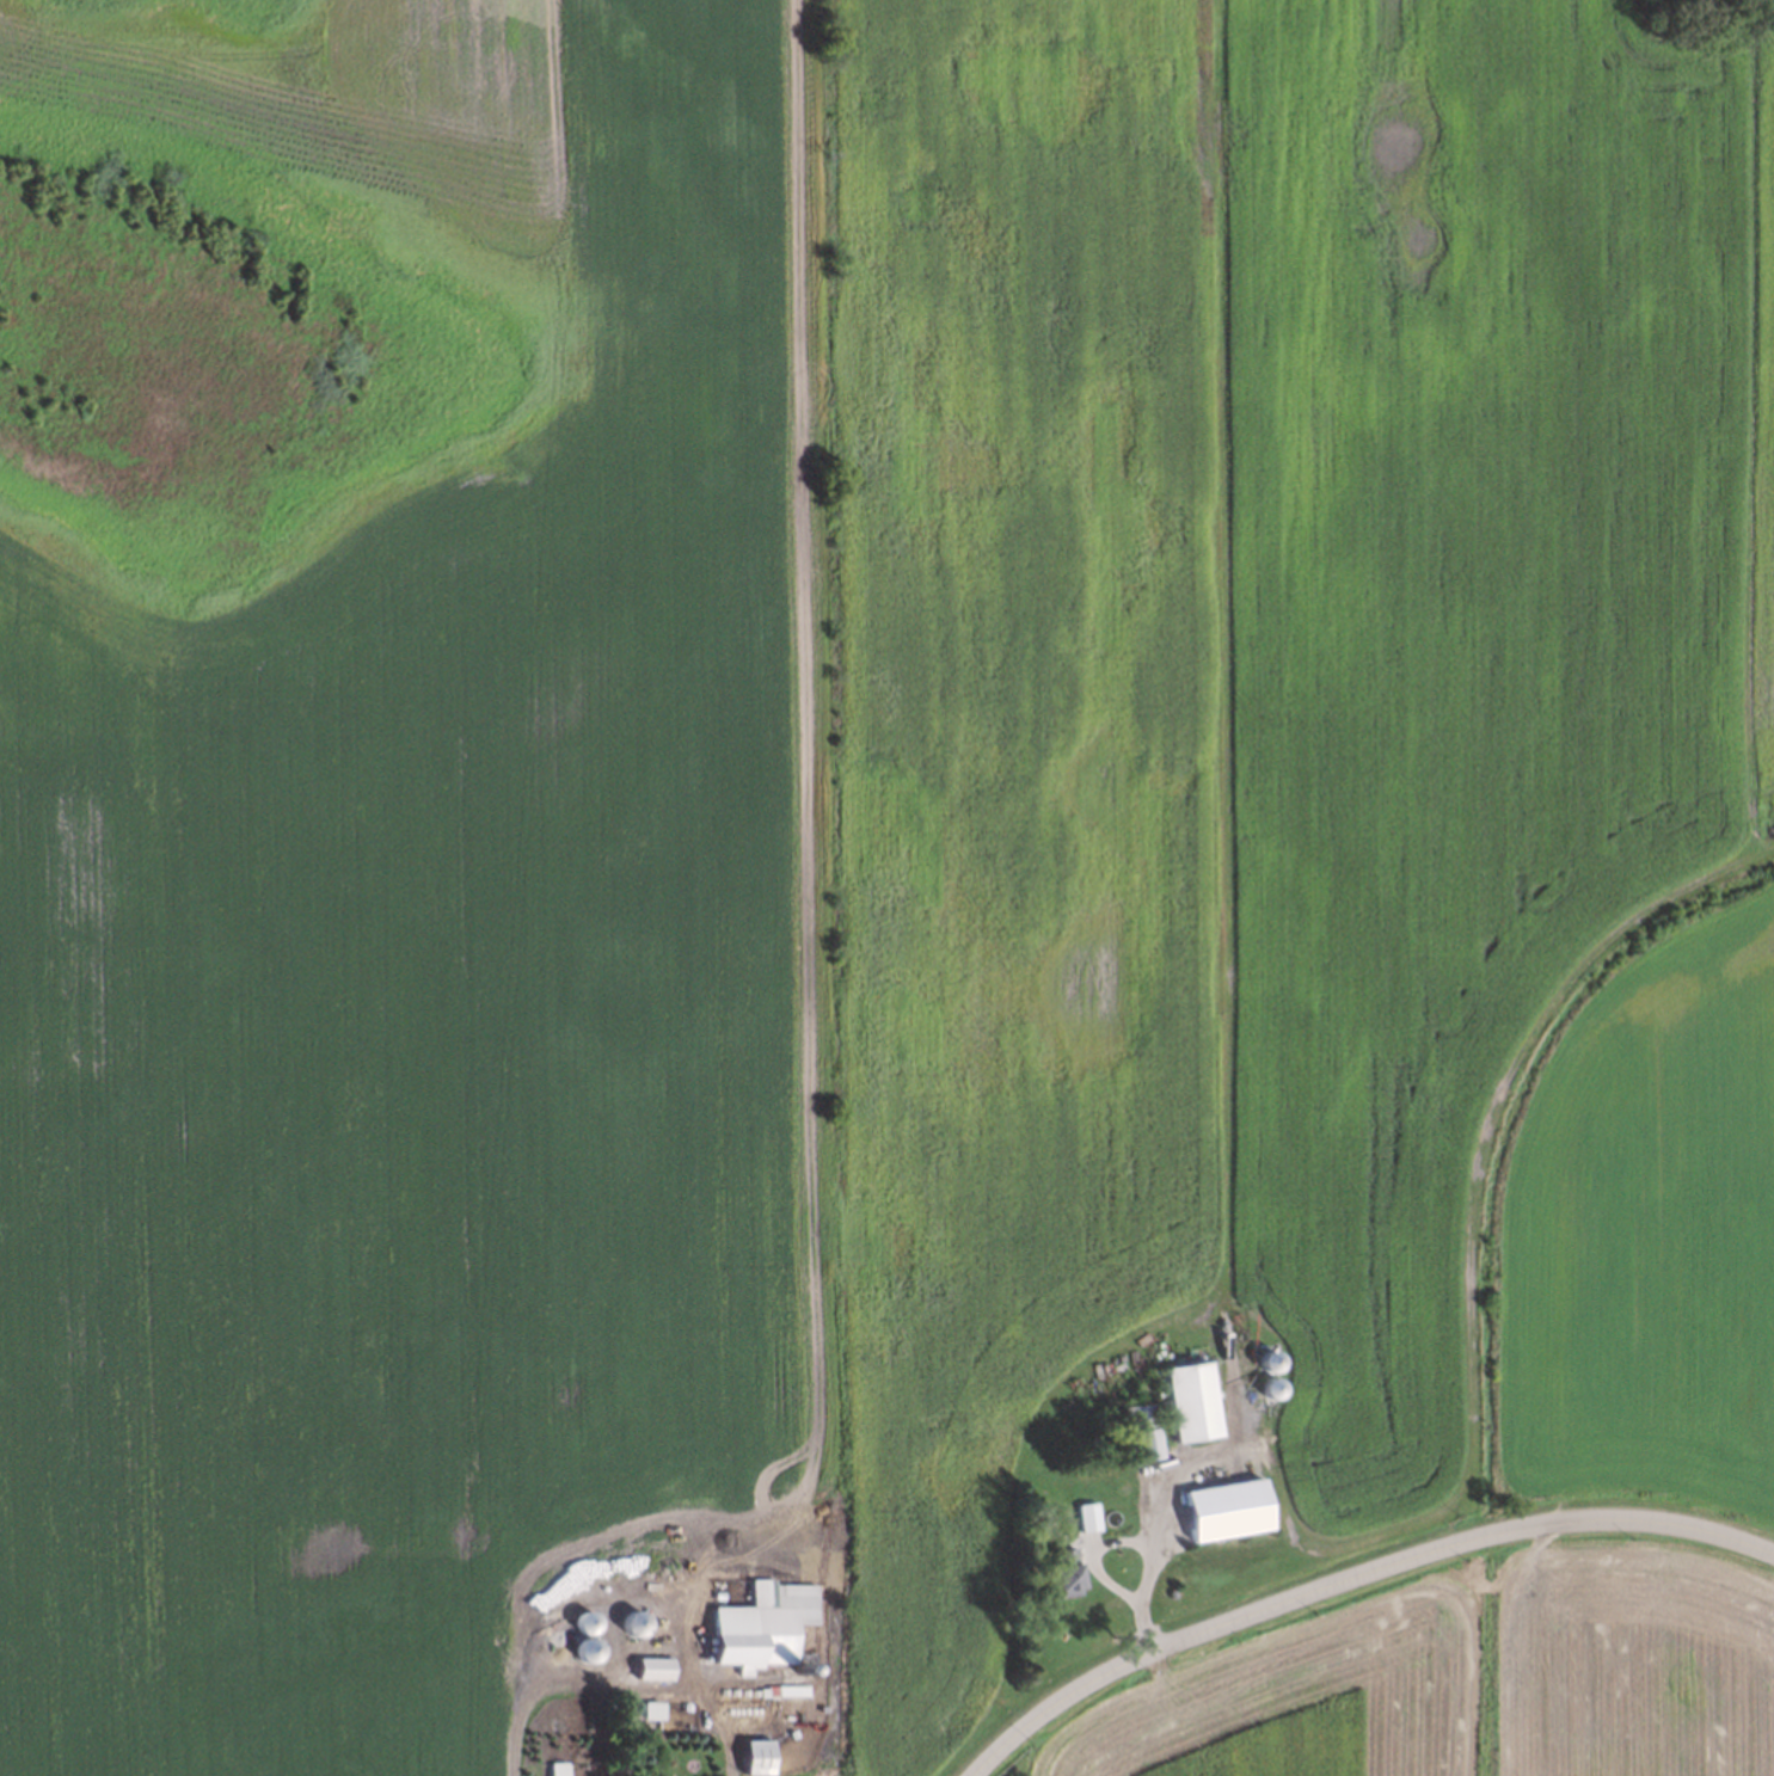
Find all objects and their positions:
building: (1196, 1403)
building: (1138, 1428)
building: (1230, 1512)
building: (1082, 1517)
road: (1094, 1559)
building: (1061, 1571)
road: (1356, 1578)
building: (1166, 1590)
building: (698, 1605)
building: (582, 1621)
building: (630, 1622)
building: (695, 1623)
building: (763, 1629)
building: (583, 1648)
building: (650, 1667)
building: (799, 1669)
road: (620, 1685)
building: (753, 1756)

